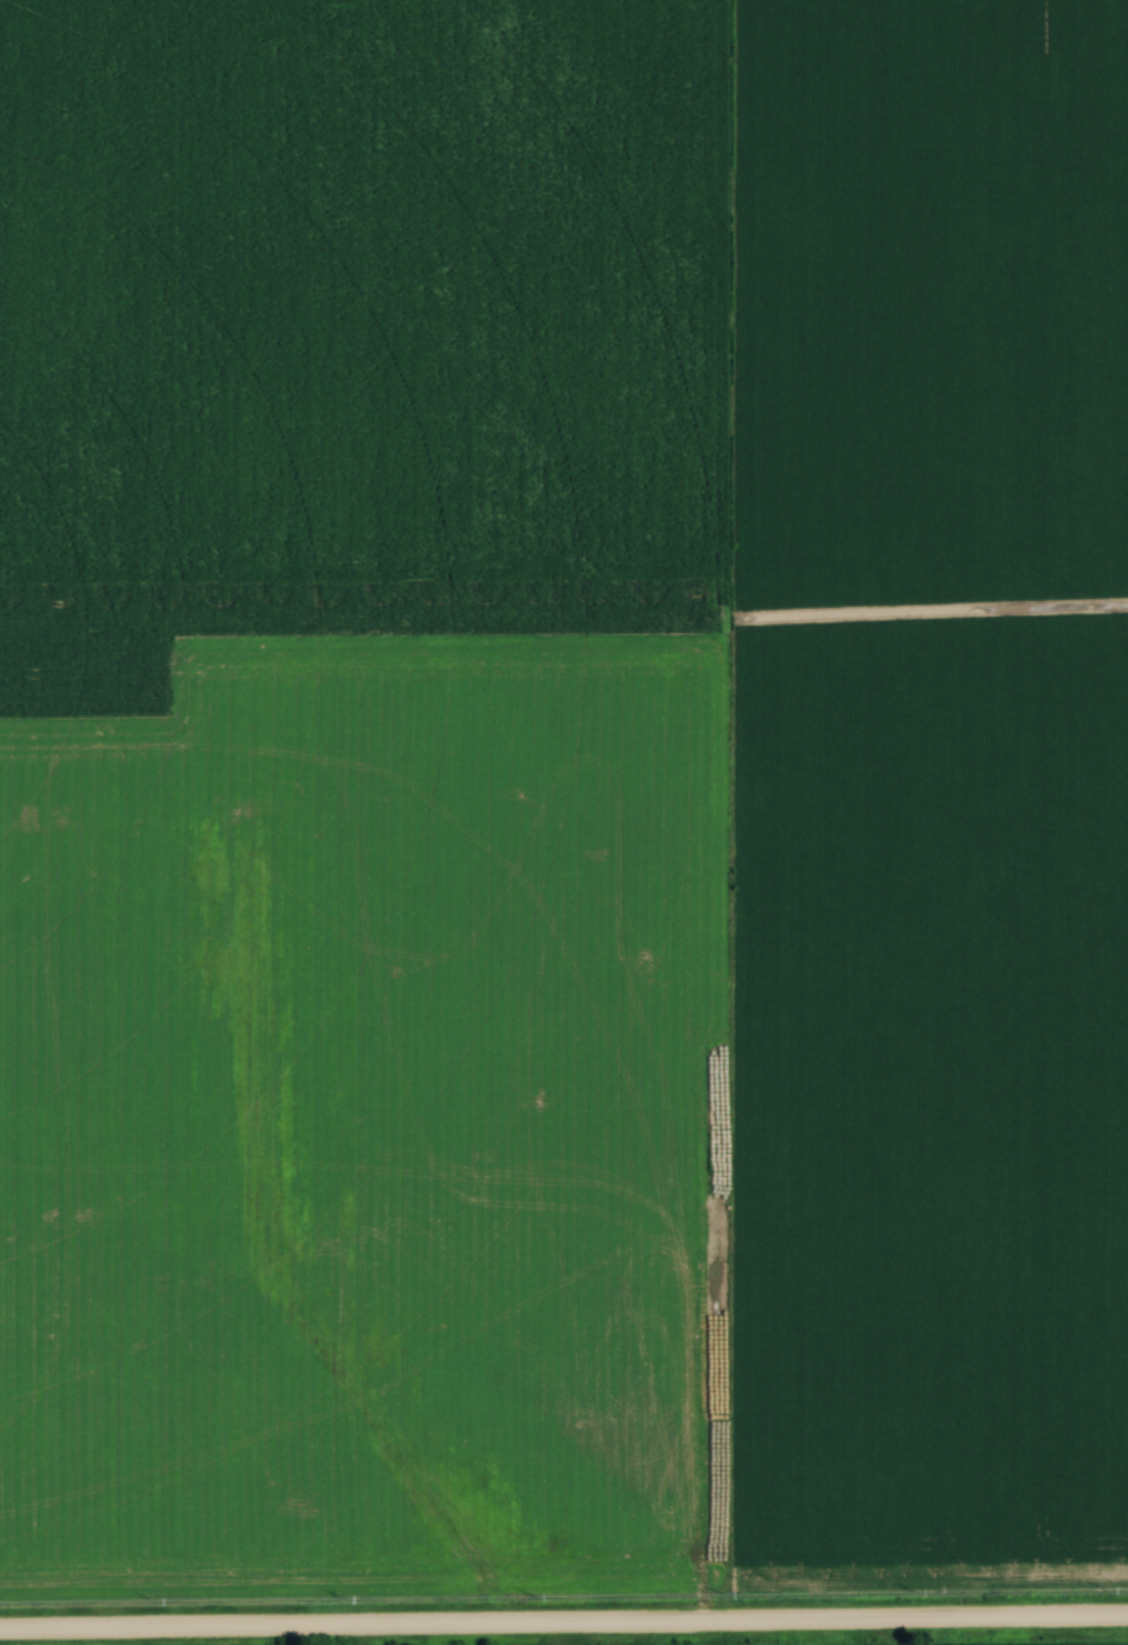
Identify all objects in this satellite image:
road: (563, 1624)

